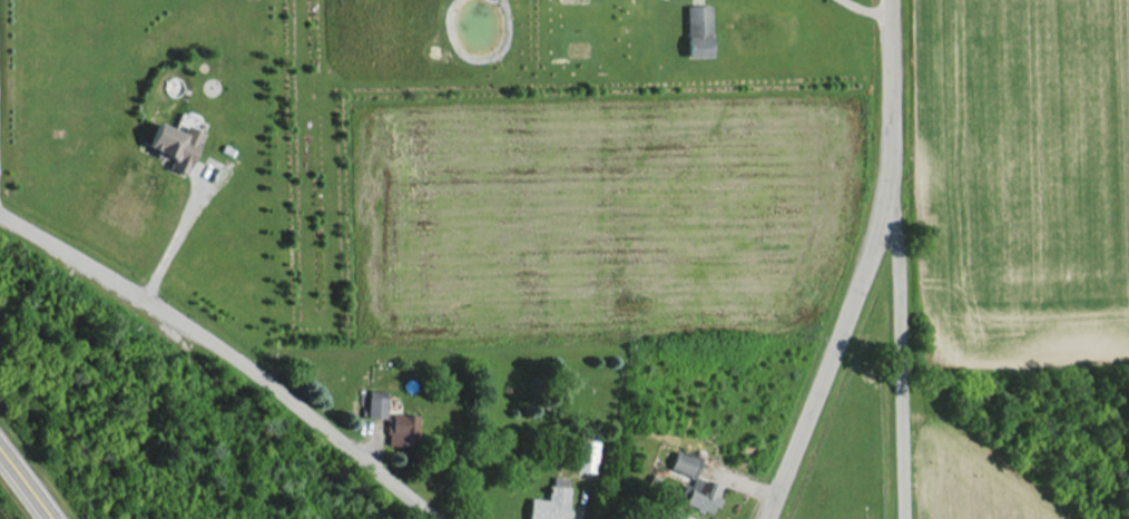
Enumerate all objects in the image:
road: (863, 9)
building: (696, 32)
building: (174, 146)
road: (173, 231)
road: (860, 266)
road: (230, 351)
road: (896, 358)
building: (369, 404)
building: (397, 431)
park: (848, 439)
building: (578, 457)
building: (677, 464)
road: (27, 483)
building: (696, 496)
building: (541, 505)
building: (669, 513)

